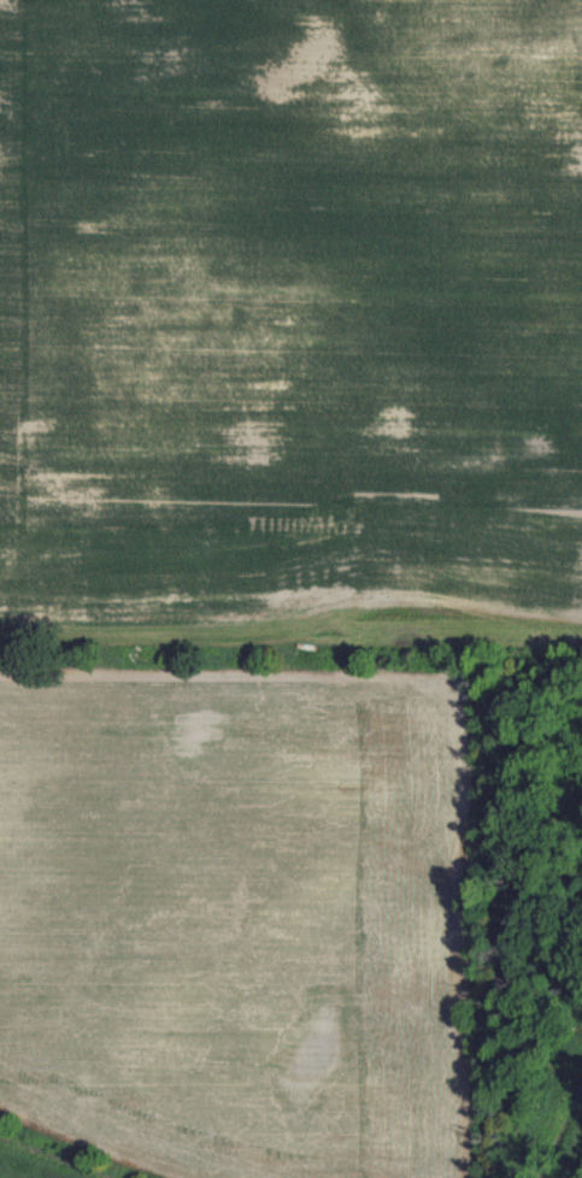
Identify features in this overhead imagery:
crop: (266, 553)

